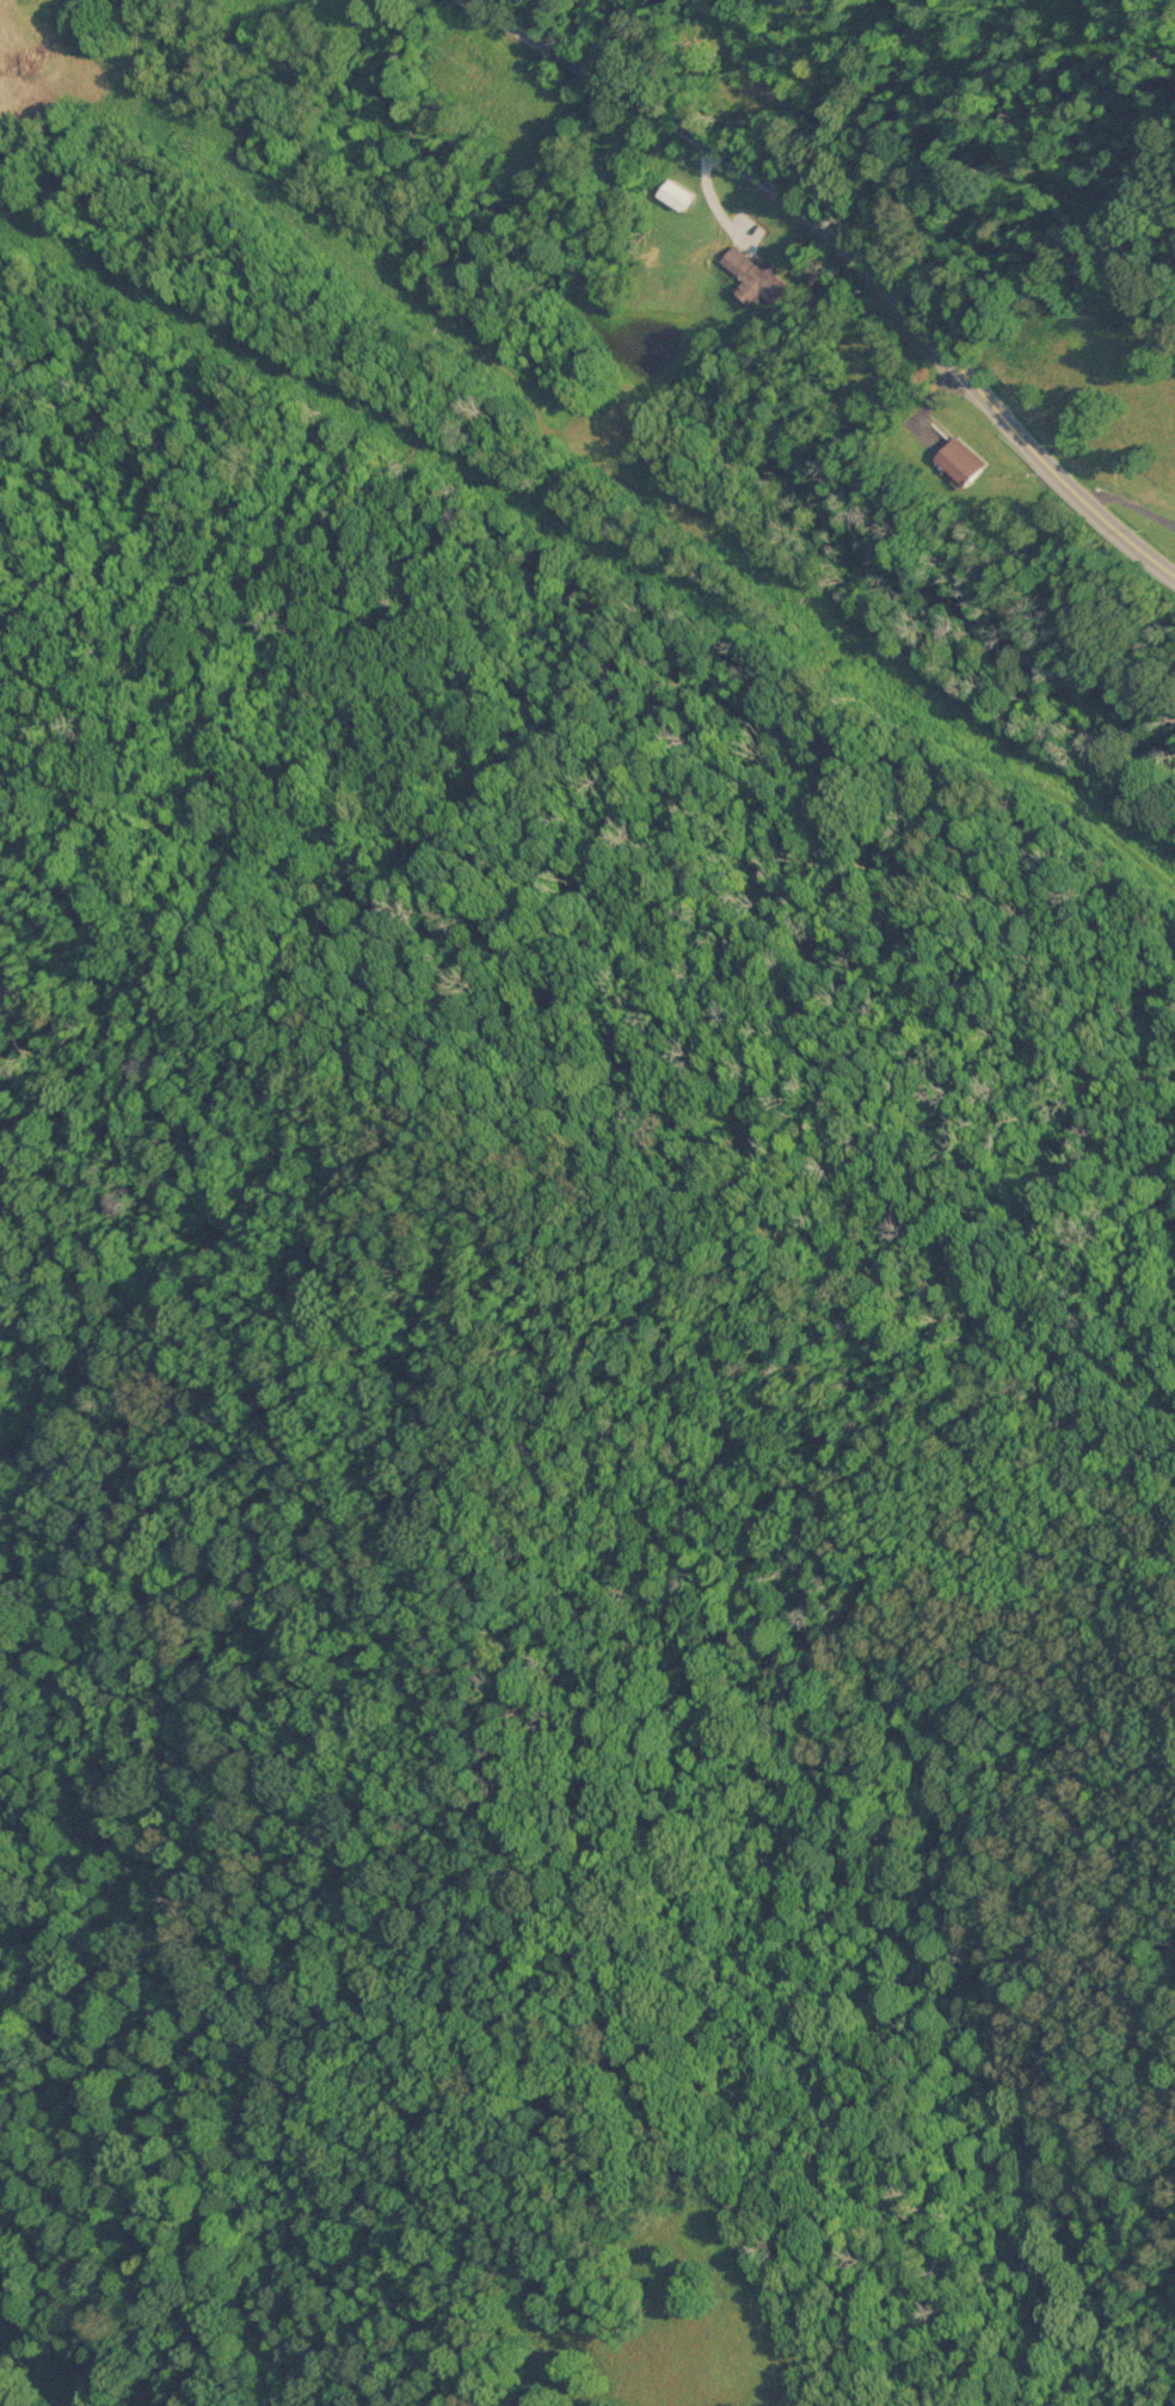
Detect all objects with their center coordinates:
road: (708, 191)
road: (848, 252)
building: (755, 274)
road: (928, 405)
building: (961, 461)
road: (1127, 504)

